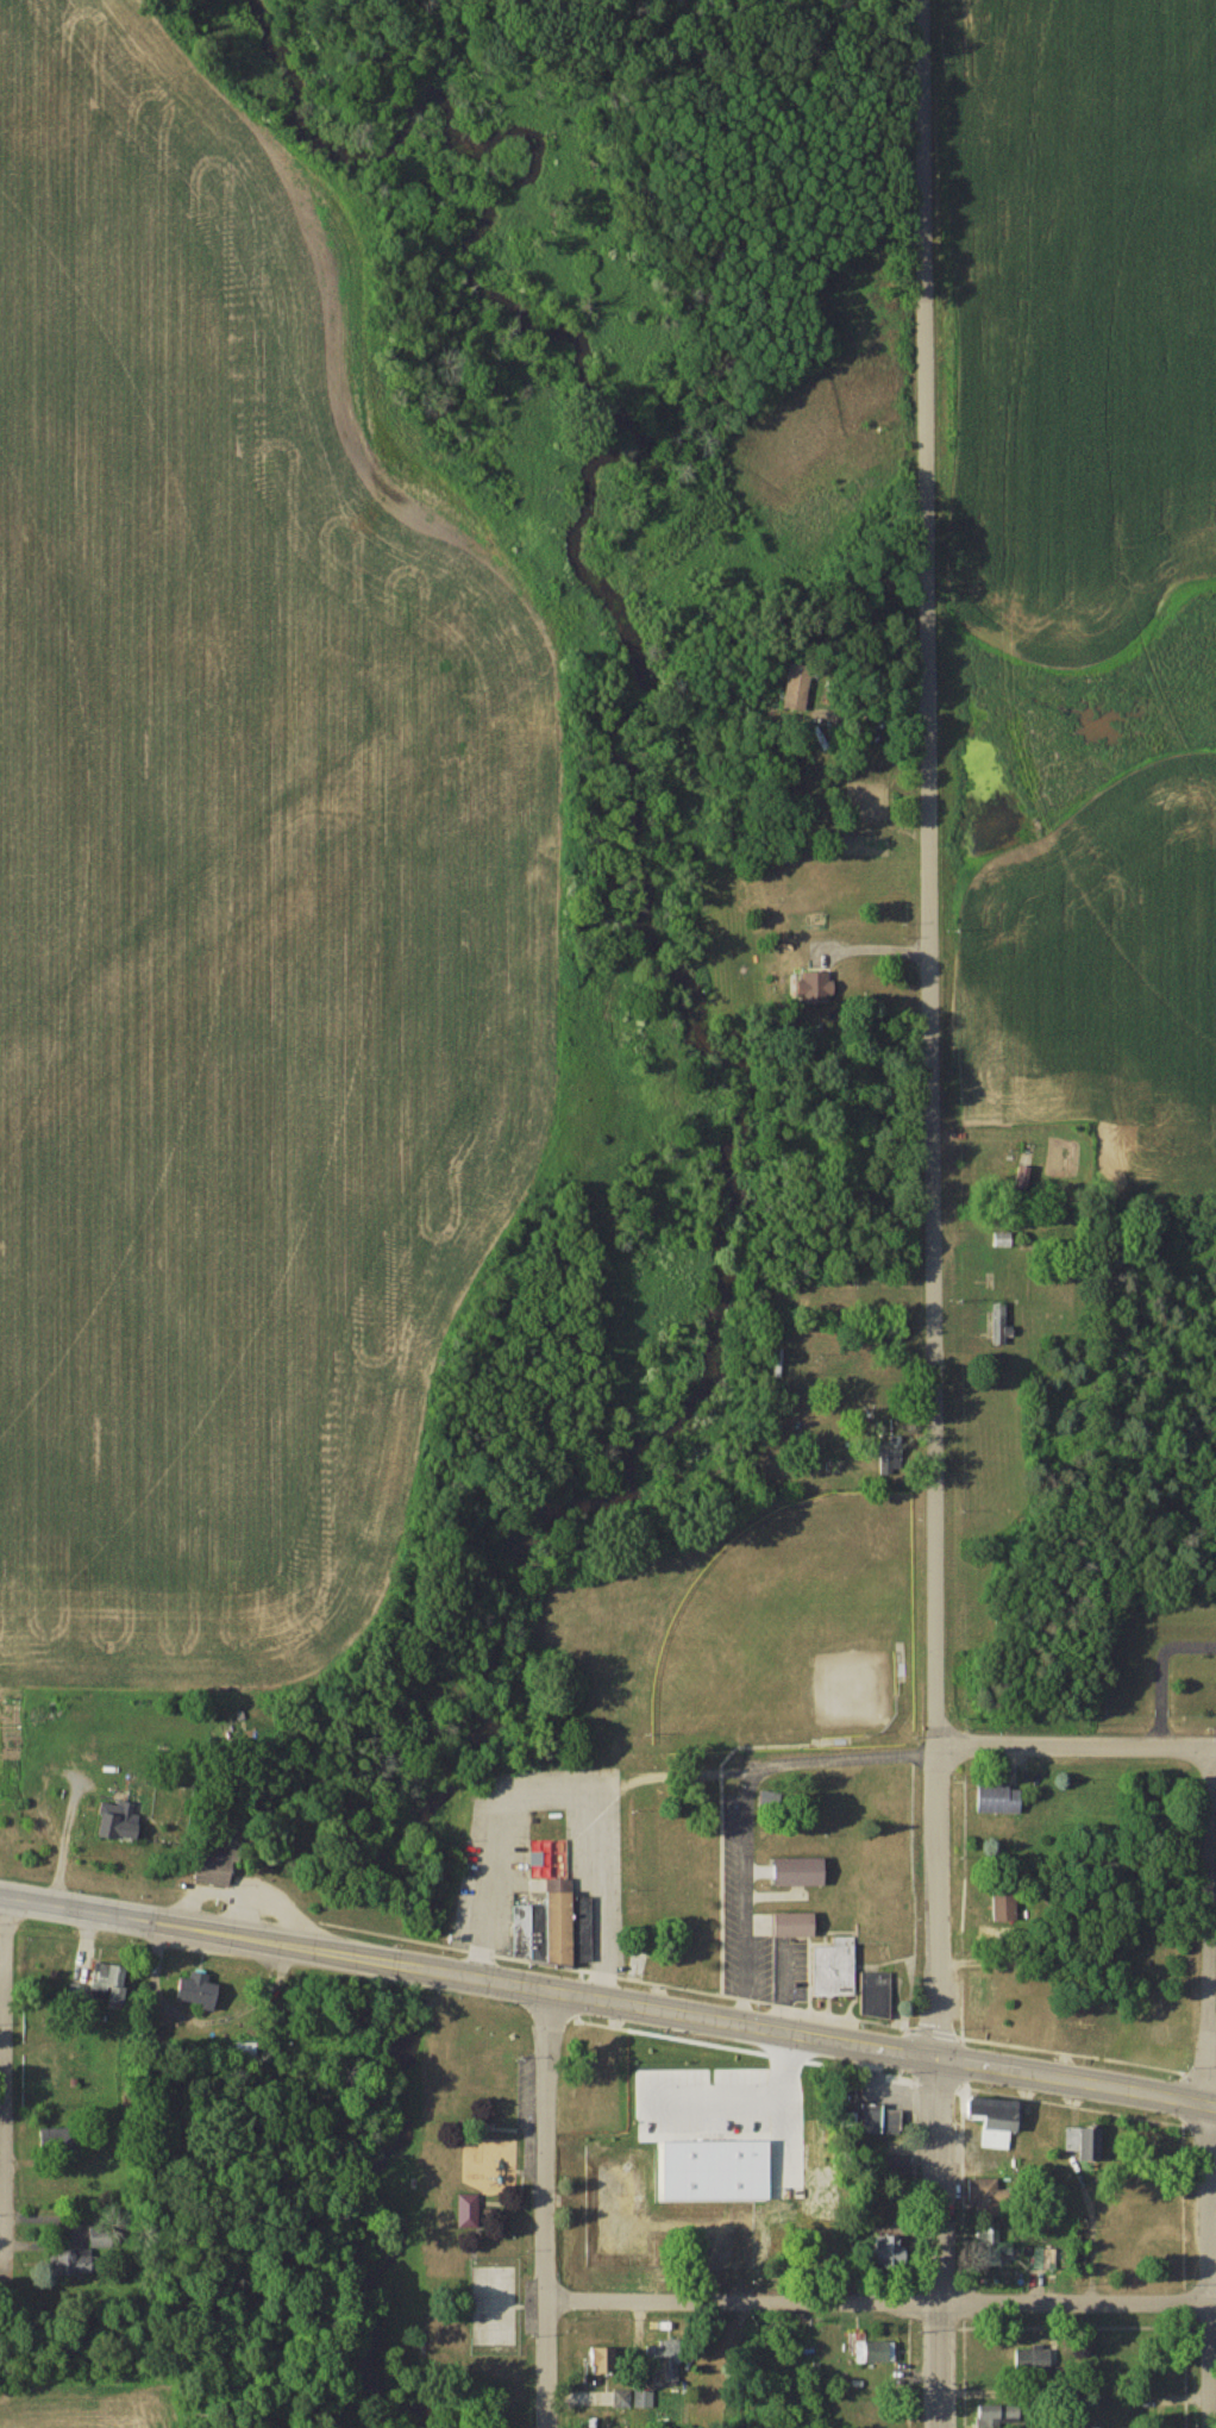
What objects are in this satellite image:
building: (800, 686)
road: (867, 715)
road: (872, 949)
road: (935, 1027)
building: (1004, 1241)
building: (999, 1325)
park: (795, 1631)
road: (985, 1741)
road: (564, 1794)
building: (1001, 1800)
building: (120, 1823)
building: (218, 1866)
building: (801, 1873)
road: (747, 1894)
building: (1007, 1908)
building: (568, 1923)
building: (796, 1926)
building: (528, 1934)
building: (638, 1965)
building: (836, 1970)
building: (111, 1983)
building: (199, 1991)
building: (877, 1995)
building: (77, 1996)
road: (608, 1997)
road: (10, 2082)
road: (1210, 2085)
road: (763, 2095)
parking lot: (723, 2108)
building: (882, 2119)
building: (997, 2119)
building: (1085, 2140)
building: (63, 2141)
building: (715, 2167)
building: (895, 2169)
park: (474, 2195)
building: (991, 2195)
road: (549, 2208)
building: (470, 2211)
building: (623, 2221)
road: (1092, 2232)
road: (936, 2241)
building: (994, 2246)
building: (892, 2248)
building: (1042, 2258)
building: (1083, 2259)
building: (77, 2261)
road: (882, 2301)
building: (883, 2351)
building: (1038, 2360)
building: (603, 2363)
road: (747, 2364)
building: (666, 2367)
building: (883, 2414)
building: (998, 2416)

